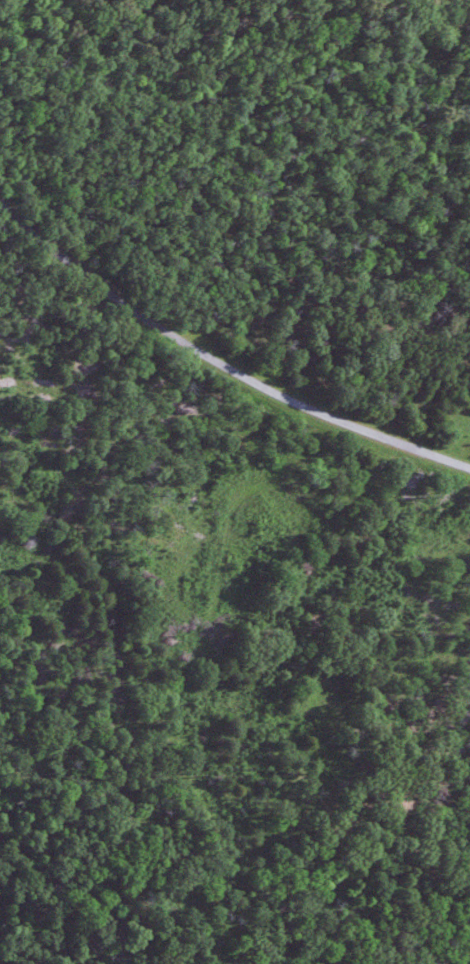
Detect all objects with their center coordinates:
road: (218, 363)

